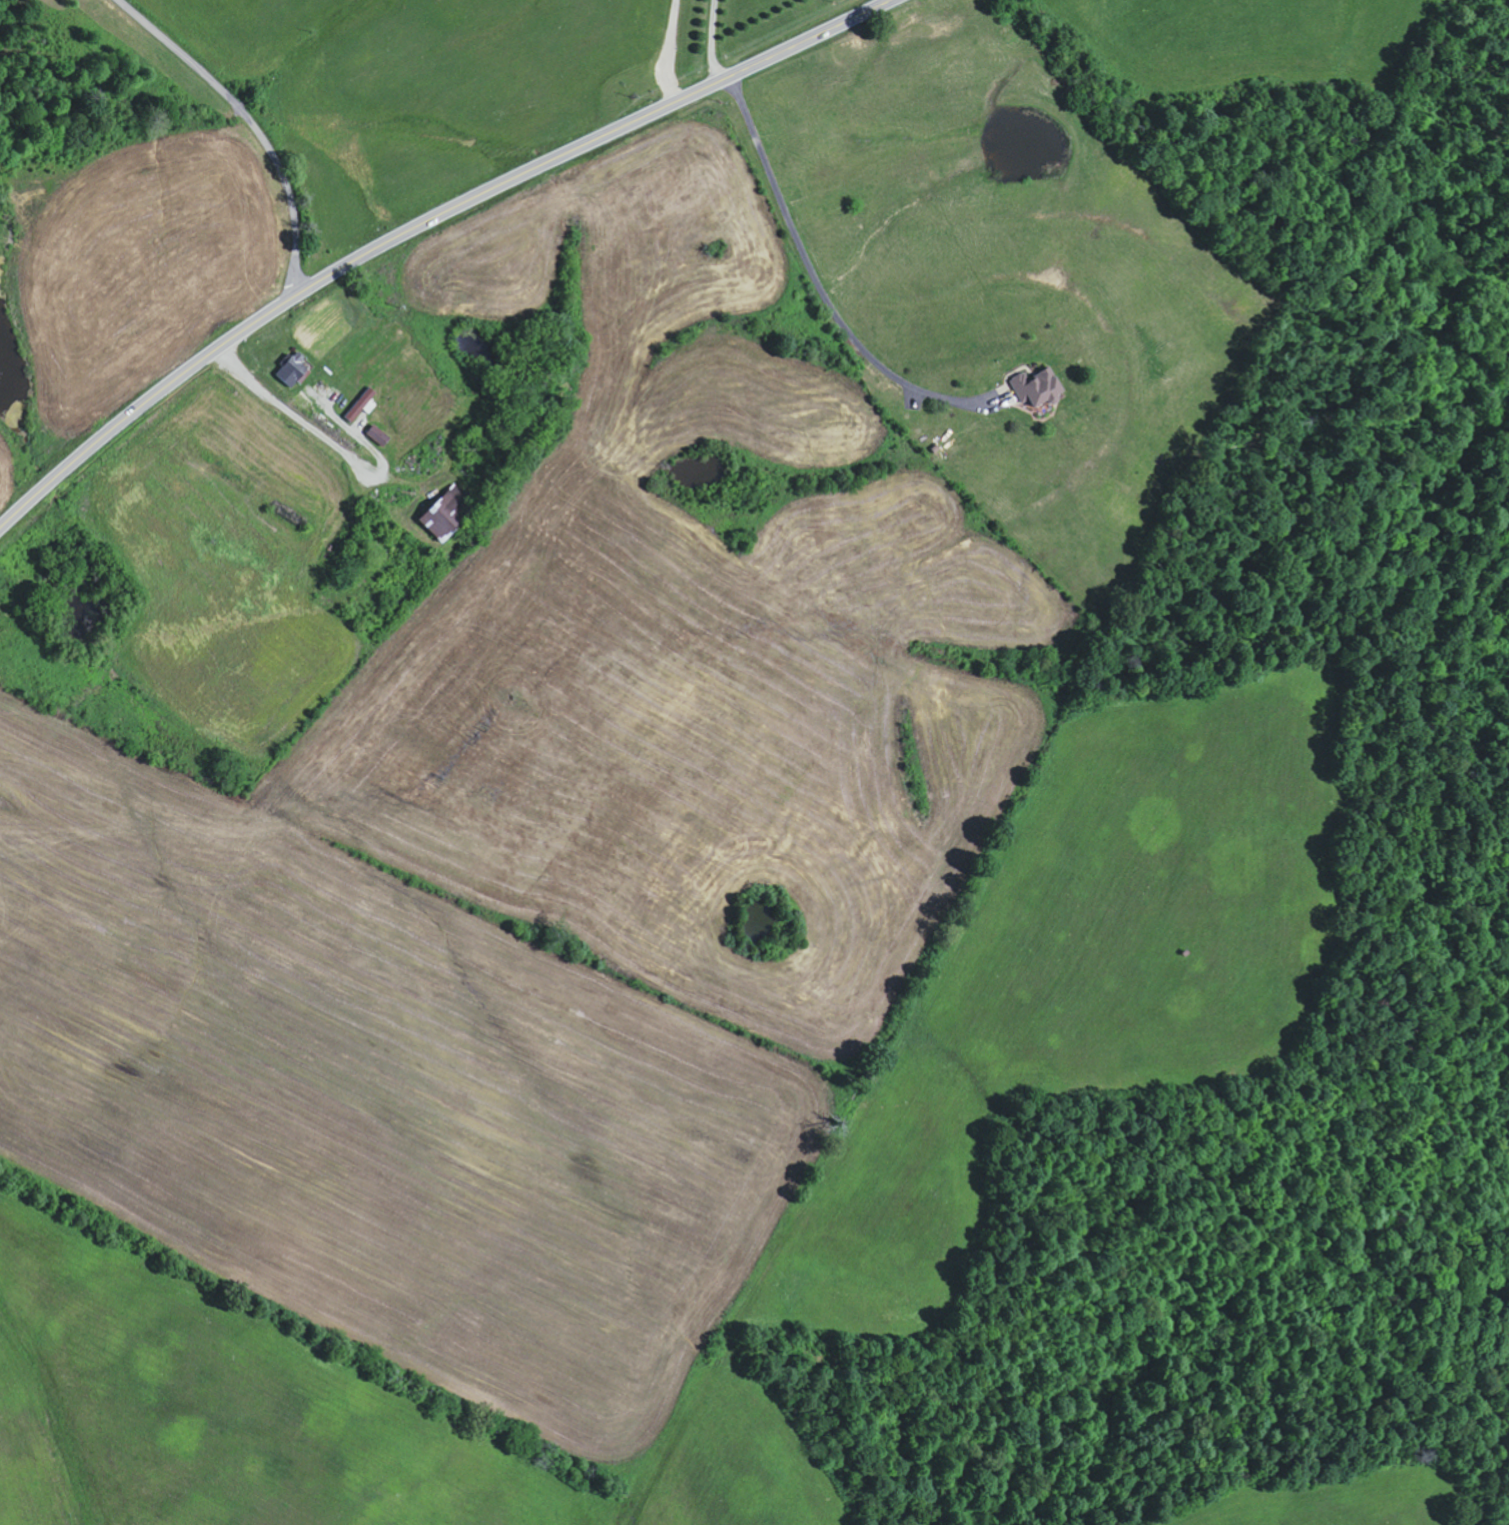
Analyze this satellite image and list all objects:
road: (248, 123)
road: (419, 223)
building: (293, 369)
building: (1037, 386)
building: (363, 404)
building: (379, 435)
building: (444, 513)

